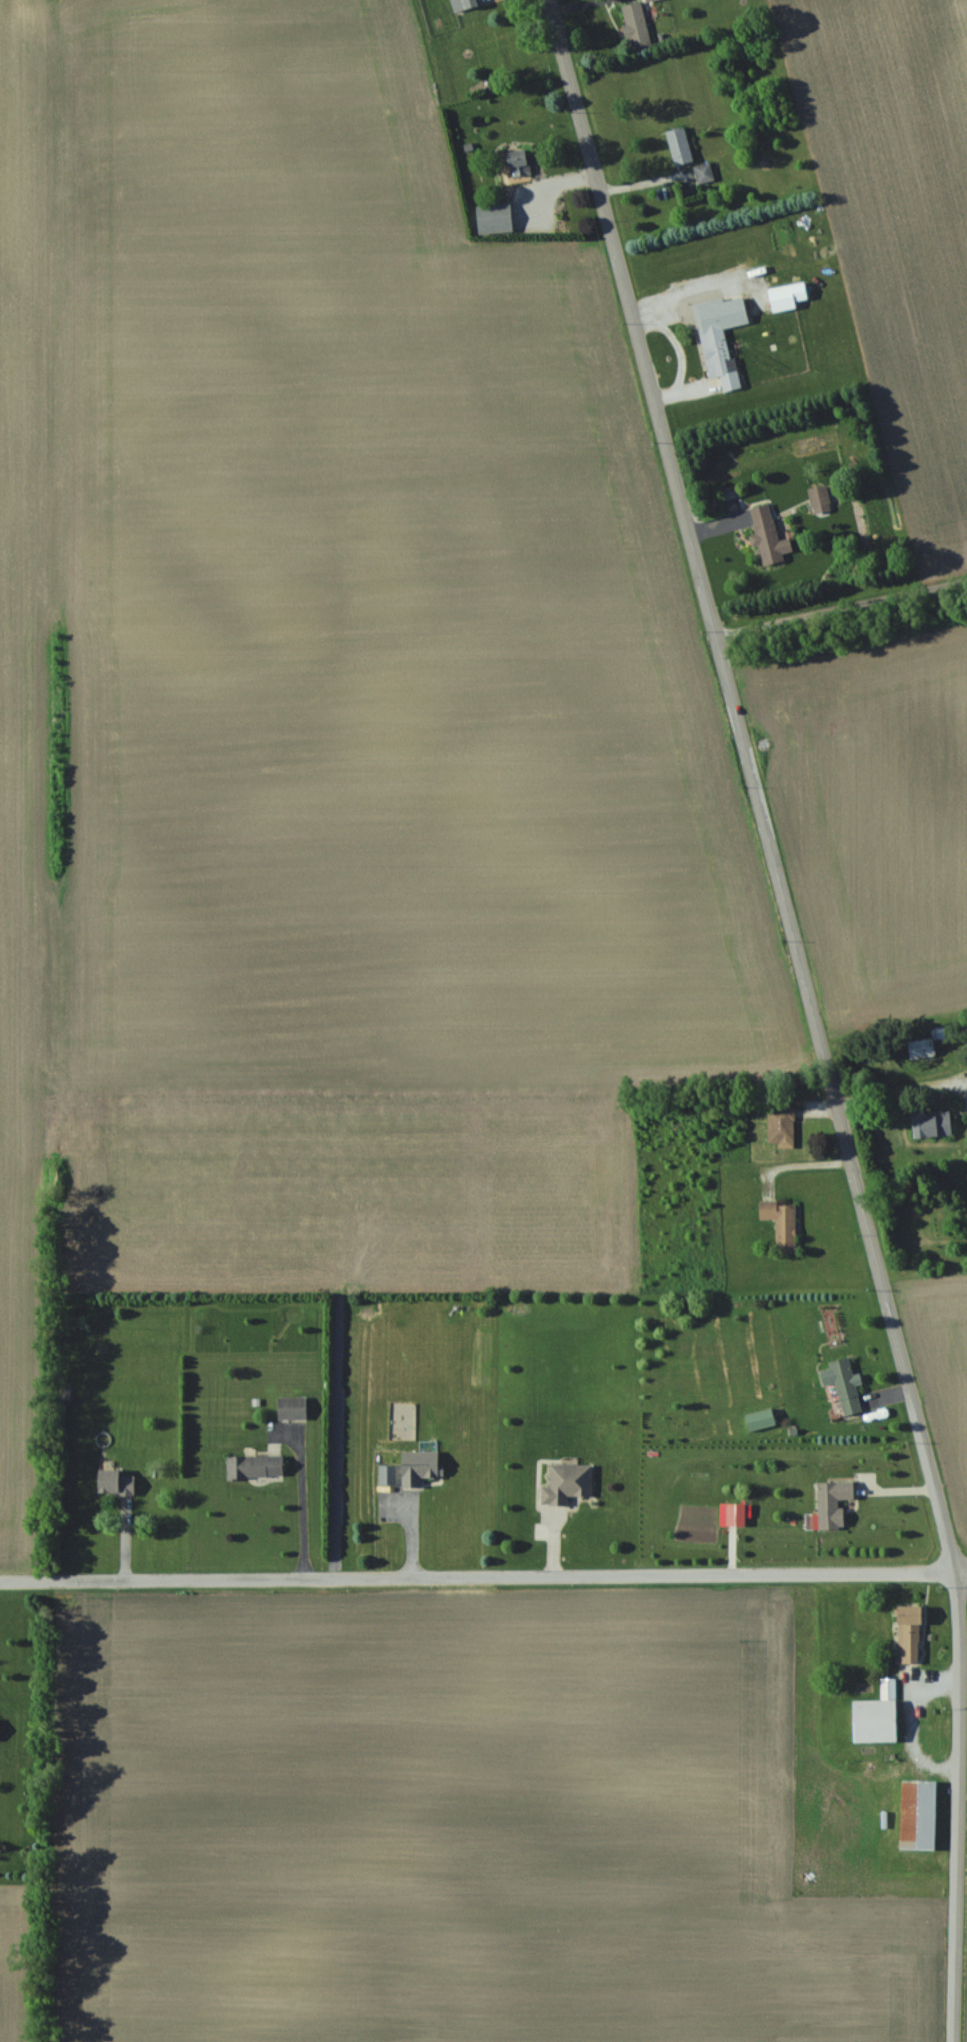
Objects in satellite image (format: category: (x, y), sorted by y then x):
building: (649, 0)
building: (464, 5)
building: (635, 27)
building: (678, 147)
building: (518, 164)
building: (703, 174)
building: (494, 219)
building: (781, 298)
road: (680, 354)
building: (721, 360)
building: (819, 500)
building: (768, 537)
road: (841, 610)
road: (844, 638)
road: (811, 1013)
building: (920, 1049)
road: (902, 1089)
building: (931, 1124)
building: (780, 1126)
road: (796, 1165)
building: (781, 1224)
building: (843, 1385)
building: (291, 1408)
building: (759, 1421)
building: (254, 1467)
building: (418, 1468)
building: (113, 1483)
building: (566, 1484)
building: (832, 1504)
road: (301, 1506)
building: (734, 1515)
road: (483, 1578)
building: (908, 1634)
building: (875, 1716)
building: (917, 1816)

